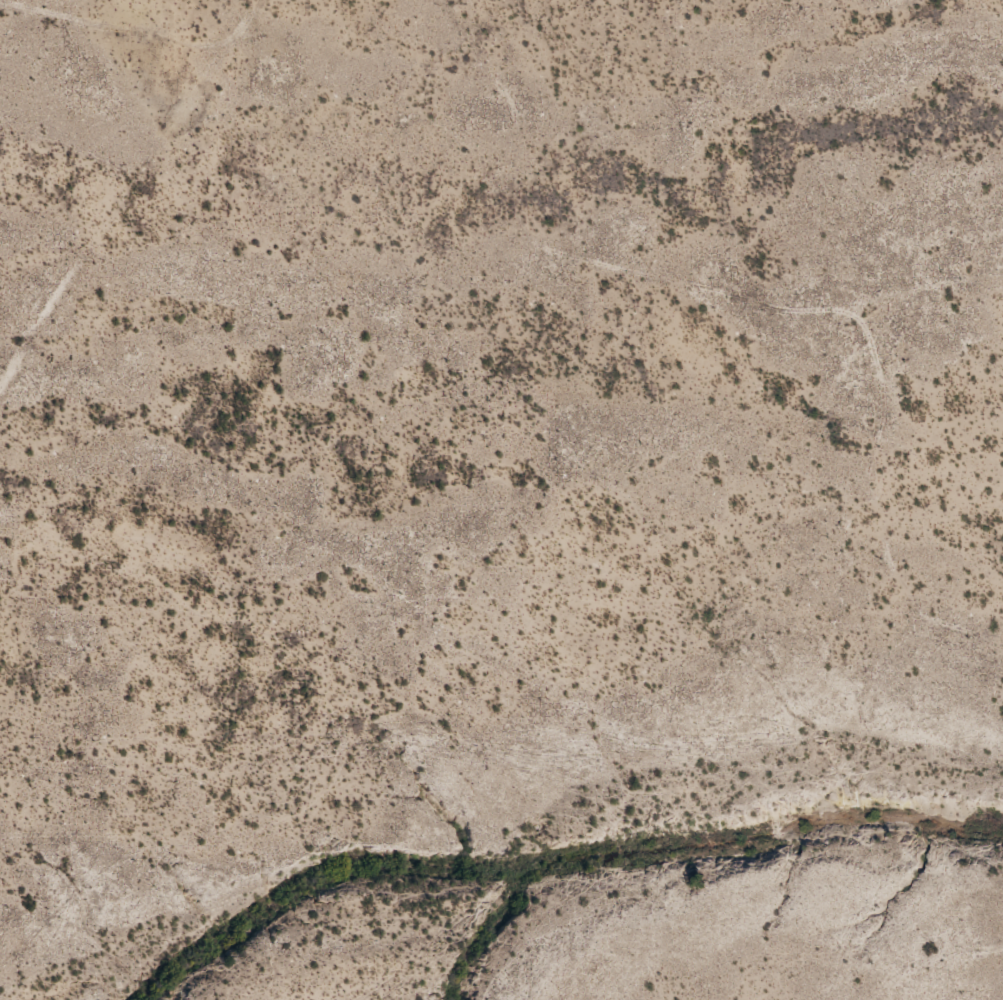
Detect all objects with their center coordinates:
road: (120, 213)

